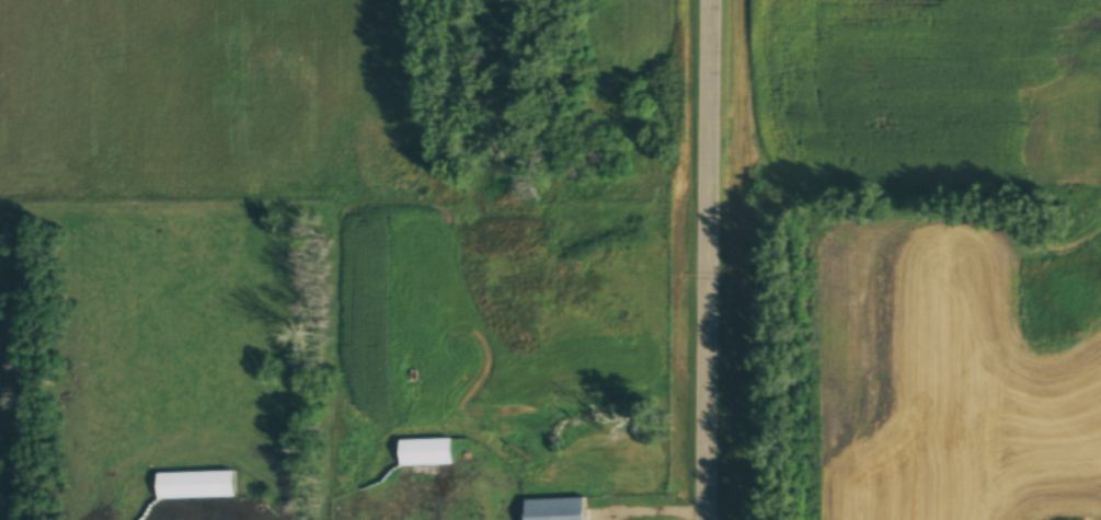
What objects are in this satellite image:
road: (716, 259)
building: (192, 485)
building: (552, 509)

